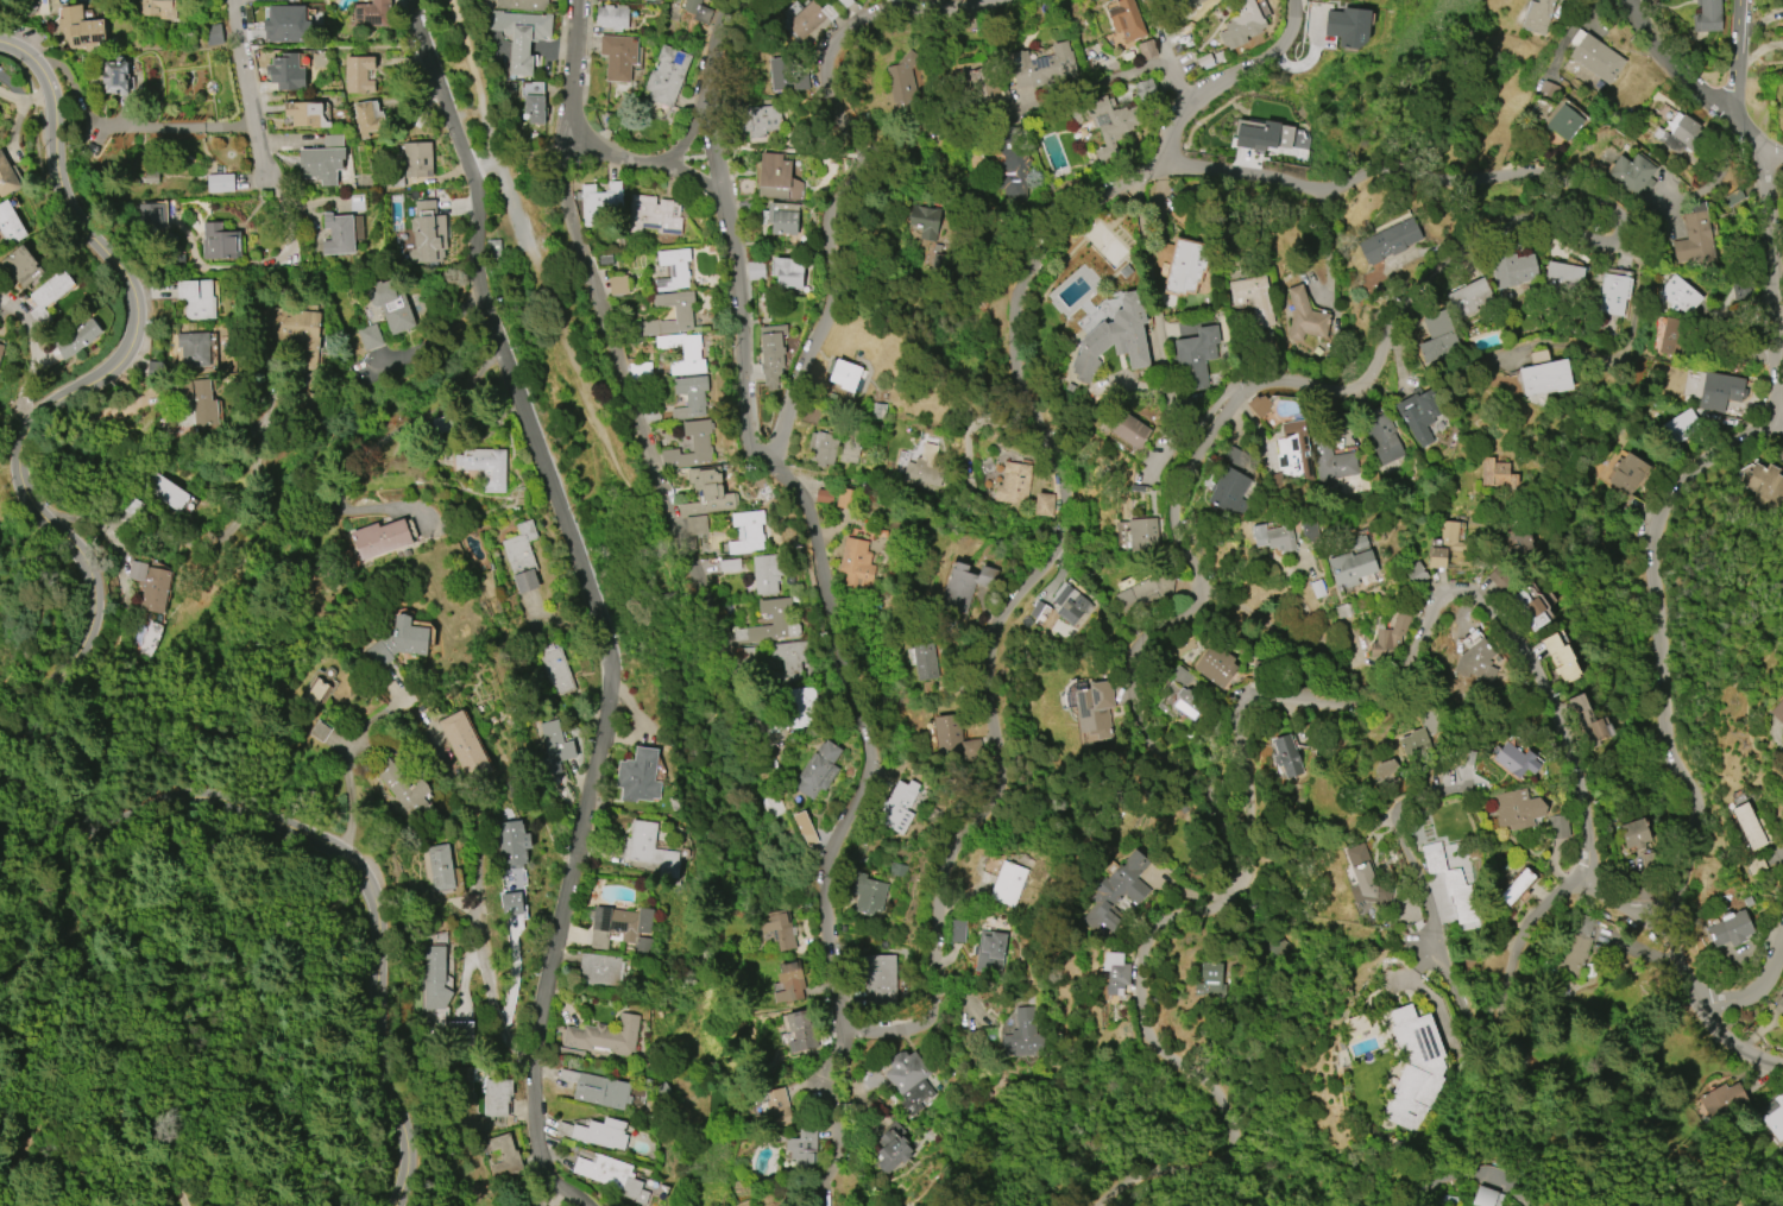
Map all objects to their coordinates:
building: (484, 0)
building: (1178, 0)
building: (316, 1)
building: (846, 2)
building: (522, 4)
building: (1147, 5)
building: (159, 8)
building: (698, 11)
building: (373, 13)
building: (1537, 15)
building: (612, 17)
building: (812, 17)
building: (1707, 17)
building: (1246, 18)
building: (1127, 20)
building: (286, 24)
building: (81, 29)
building: (1346, 29)
building: (214, 34)
building: (521, 36)
building: (1782, 44)
building: (1147, 49)
road: (586, 52)
building: (618, 57)
building: (1598, 58)
road: (1734, 58)
road: (557, 62)
building: (1041, 67)
building: (286, 71)
building: (359, 75)
building: (667, 75)
building: (787, 75)
building: (115, 77)
road: (1226, 78)
building: (902, 81)
road: (477, 82)
road: (1100, 88)
road: (1699, 88)
building: (1145, 89)
road: (247, 95)
building: (534, 100)
road: (24, 101)
road: (577, 103)
building: (305, 114)
building: (367, 116)
building: (421, 119)
building: (760, 122)
building: (1563, 122)
building: (1107, 124)
road: (125, 127)
building: (1684, 131)
road: (546, 132)
building: (1271, 135)
road: (555, 140)
road: (597, 149)
road: (691, 157)
building: (322, 159)
building: (417, 159)
building: (1015, 171)
building: (1631, 173)
road: (853, 175)
building: (6, 178)
building: (776, 178)
road: (699, 181)
building: (393, 182)
building: (220, 183)
building: (745, 187)
building: (599, 204)
road: (512, 206)
road: (1060, 208)
building: (654, 215)
building: (782, 217)
building: (925, 221)
building: (10, 225)
building: (428, 231)
road: (729, 231)
building: (338, 234)
building: (1388, 240)
building: (1695, 240)
building: (221, 245)
road: (90, 248)
building: (20, 266)
building: (1185, 266)
road: (1007, 267)
building: (673, 269)
building: (1511, 269)
building: (788, 272)
building: (1563, 276)
building: (618, 284)
road: (1768, 285)
building: (1613, 293)
building: (1677, 293)
building: (48, 296)
building: (1253, 297)
building: (1468, 297)
building: (196, 298)
building: (982, 303)
building: (391, 307)
building: (682, 312)
building: (1304, 316)
building: (304, 335)
building: (1667, 335)
building: (77, 337)
building: (371, 337)
building: (1437, 337)
building: (1114, 340)
building: (191, 347)
building: (0, 348)
building: (682, 352)
building: (771, 353)
road: (33, 356)
road: (618, 356)
building: (1195, 356)
building: (843, 374)
building: (1544, 374)
road: (580, 377)
road: (1163, 391)
building: (1719, 391)
building: (691, 397)
building: (200, 402)
building: (1259, 405)
building: (1419, 415)
road: (1778, 421)
building: (1681, 424)
building: (1129, 430)
building: (1382, 440)
building: (694, 442)
building: (850, 446)
building: (823, 449)
building: (1292, 449)
road: (357, 457)
road: (1197, 459)
building: (1331, 459)
building: (485, 466)
building: (925, 467)
building: (1627, 473)
building: (1498, 475)
building: (1014, 484)
building: (1764, 486)
building: (1229, 491)
building: (166, 492)
building: (706, 492)
building: (844, 498)
building: (1044, 504)
road: (96, 523)
building: (695, 525)
building: (1309, 529)
building: (746, 531)
building: (1142, 535)
building: (1274, 536)
building: (382, 537)
building: (1444, 544)
building: (521, 557)
building: (729, 564)
building: (856, 564)
building: (1350, 567)
building: (766, 574)
building: (150, 585)
building: (964, 586)
building: (1145, 592)
road: (592, 598)
road: (1435, 598)
building: (1532, 608)
building: (1063, 612)
building: (780, 618)
building: (1388, 636)
building: (143, 638)
road: (1661, 639)
building: (398, 643)
road: (685, 643)
road: (1302, 643)
road: (725, 655)
building: (1561, 655)
building: (789, 658)
building: (925, 661)
building: (1478, 661)
building: (1215, 665)
building: (556, 670)
building: (316, 687)
road: (1357, 687)
building: (1178, 695)
road: (37, 696)
building: (1094, 708)
building: (1778, 712)
building: (1587, 721)
building: (321, 731)
building: (945, 731)
building: (1422, 733)
building: (465, 746)
building: (553, 747)
building: (1287, 756)
building: (1513, 758)
building: (818, 770)
road: (345, 771)
building: (1384, 772)
building: (638, 776)
building: (407, 794)
building: (899, 807)
building: (1517, 809)
building: (1557, 826)
building: (1749, 826)
building: (805, 828)
building: (1634, 833)
building: (648, 848)
building: (512, 853)
building: (440, 866)
building: (1363, 880)
building: (1450, 883)
road: (941, 884)
building: (1008, 884)
building: (1516, 886)
building: (869, 894)
building: (1116, 894)
road: (481, 899)
building: (512, 903)
building: (1730, 927)
building: (622, 928)
building: (779, 929)
building: (957, 930)
building: (1580, 942)
building: (990, 952)
building: (600, 971)
building: (1116, 972)
road: (1453, 974)
building: (434, 977)
building: (880, 978)
building: (1210, 980)
building: (790, 983)
road: (1757, 993)
road: (1702, 1003)
building: (1779, 1004)
road: (314, 1009)
building: (461, 1031)
building: (800, 1031)
building: (1022, 1035)
building: (605, 1036)
building: (1415, 1069)
building: (908, 1080)
building: (597, 1090)
building: (498, 1097)
building: (1722, 1100)
building: (775, 1106)
building: (1775, 1116)
road: (831, 1117)
road: (102, 1122)
building: (594, 1132)
building: (892, 1145)
building: (802, 1149)
building: (506, 1158)
building: (605, 1170)
building: (1486, 1196)
building: (534, 1198)

